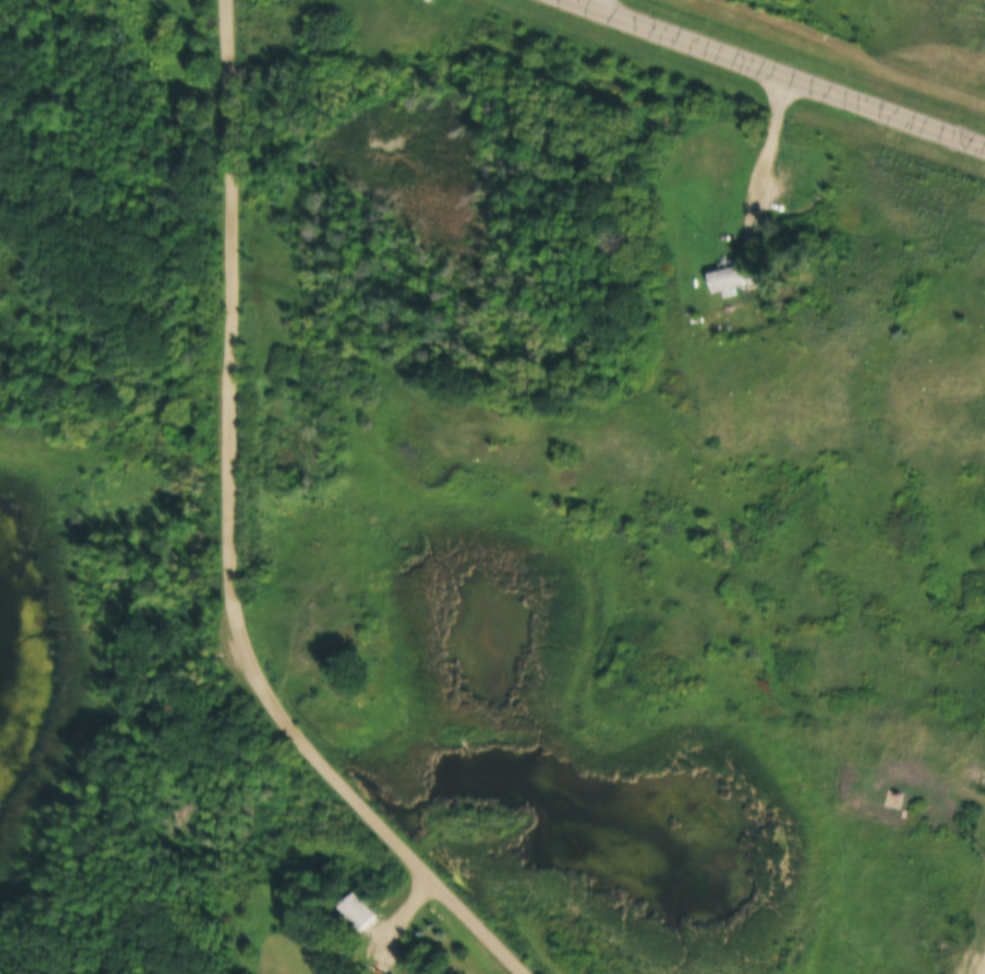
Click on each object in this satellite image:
road: (593, 1)
road: (784, 72)
road: (771, 143)
building: (727, 279)
road: (232, 541)
building: (357, 911)
road: (403, 916)

